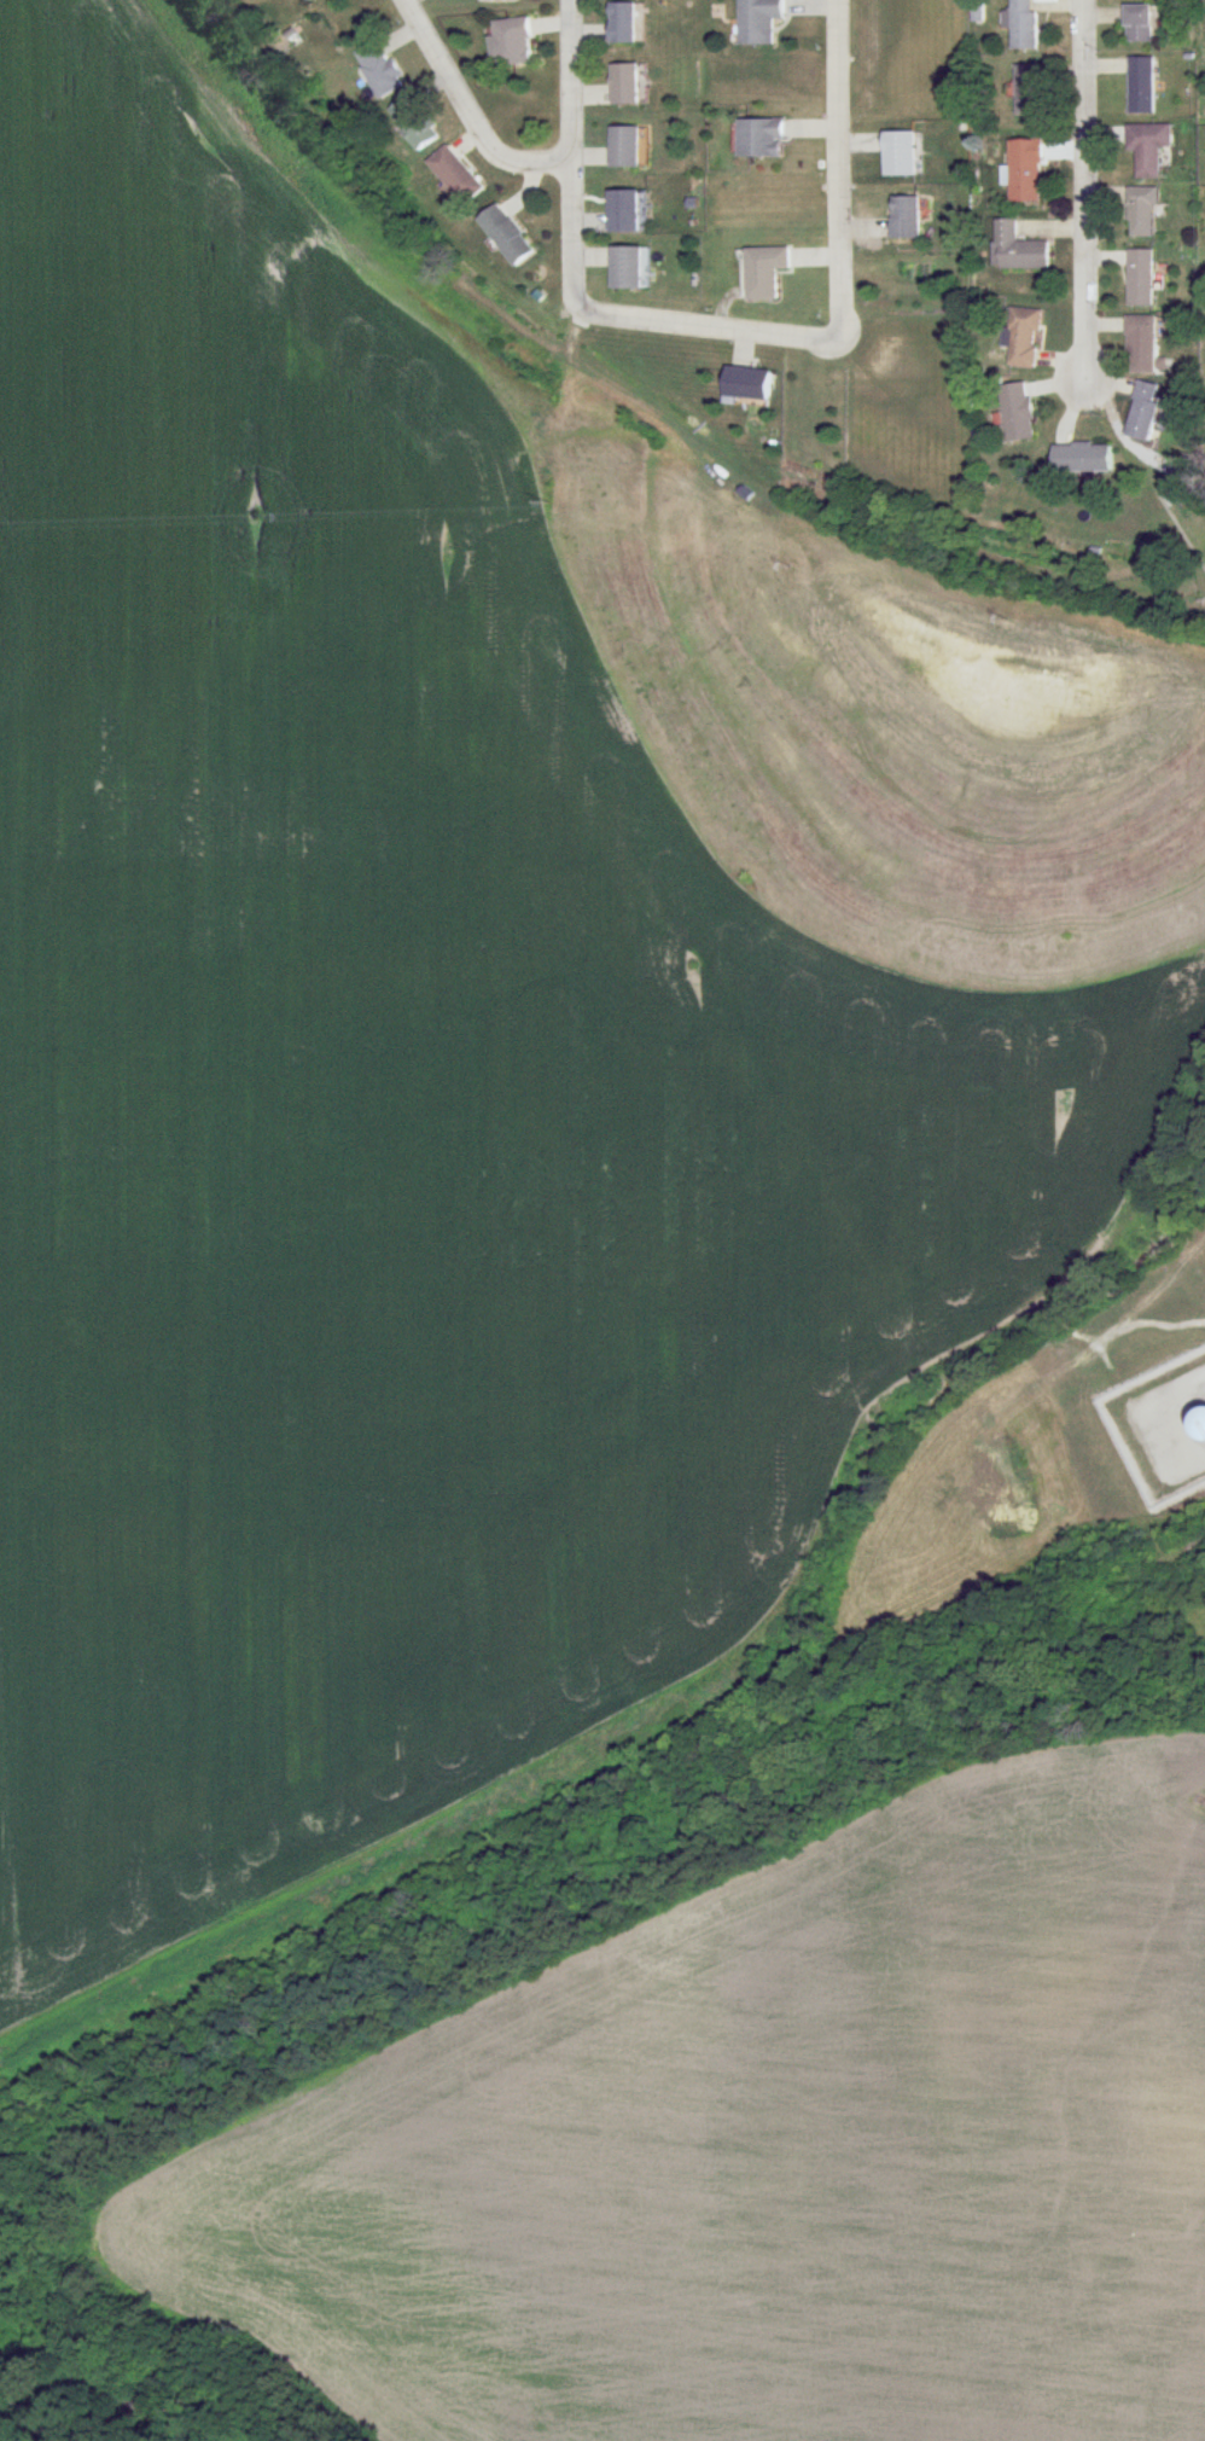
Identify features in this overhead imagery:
building: (304, 0)
building: (758, 21)
building: (621, 23)
building: (1024, 24)
building: (1137, 24)
building: (512, 42)
building: (378, 69)
building: (623, 85)
building: (1141, 86)
building: (1030, 91)
road: (468, 111)
building: (413, 123)
building: (761, 138)
building: (623, 147)
building: (1146, 150)
road: (572, 151)
building: (898, 155)
road: (1085, 165)
building: (1025, 170)
building: (454, 175)
building: (623, 211)
building: (1141, 213)
building: (904, 217)
building: (505, 236)
building: (1018, 249)
building: (625, 268)
building: (764, 272)
building: (1141, 278)
road: (840, 296)
building: (1025, 338)
building: (1141, 344)
road: (1071, 382)
building: (746, 384)
building: (1018, 412)
building: (1143, 412)
building: (1082, 459)
crop: (473, 1029)
building: (1198, 1422)
crop: (763, 2150)

